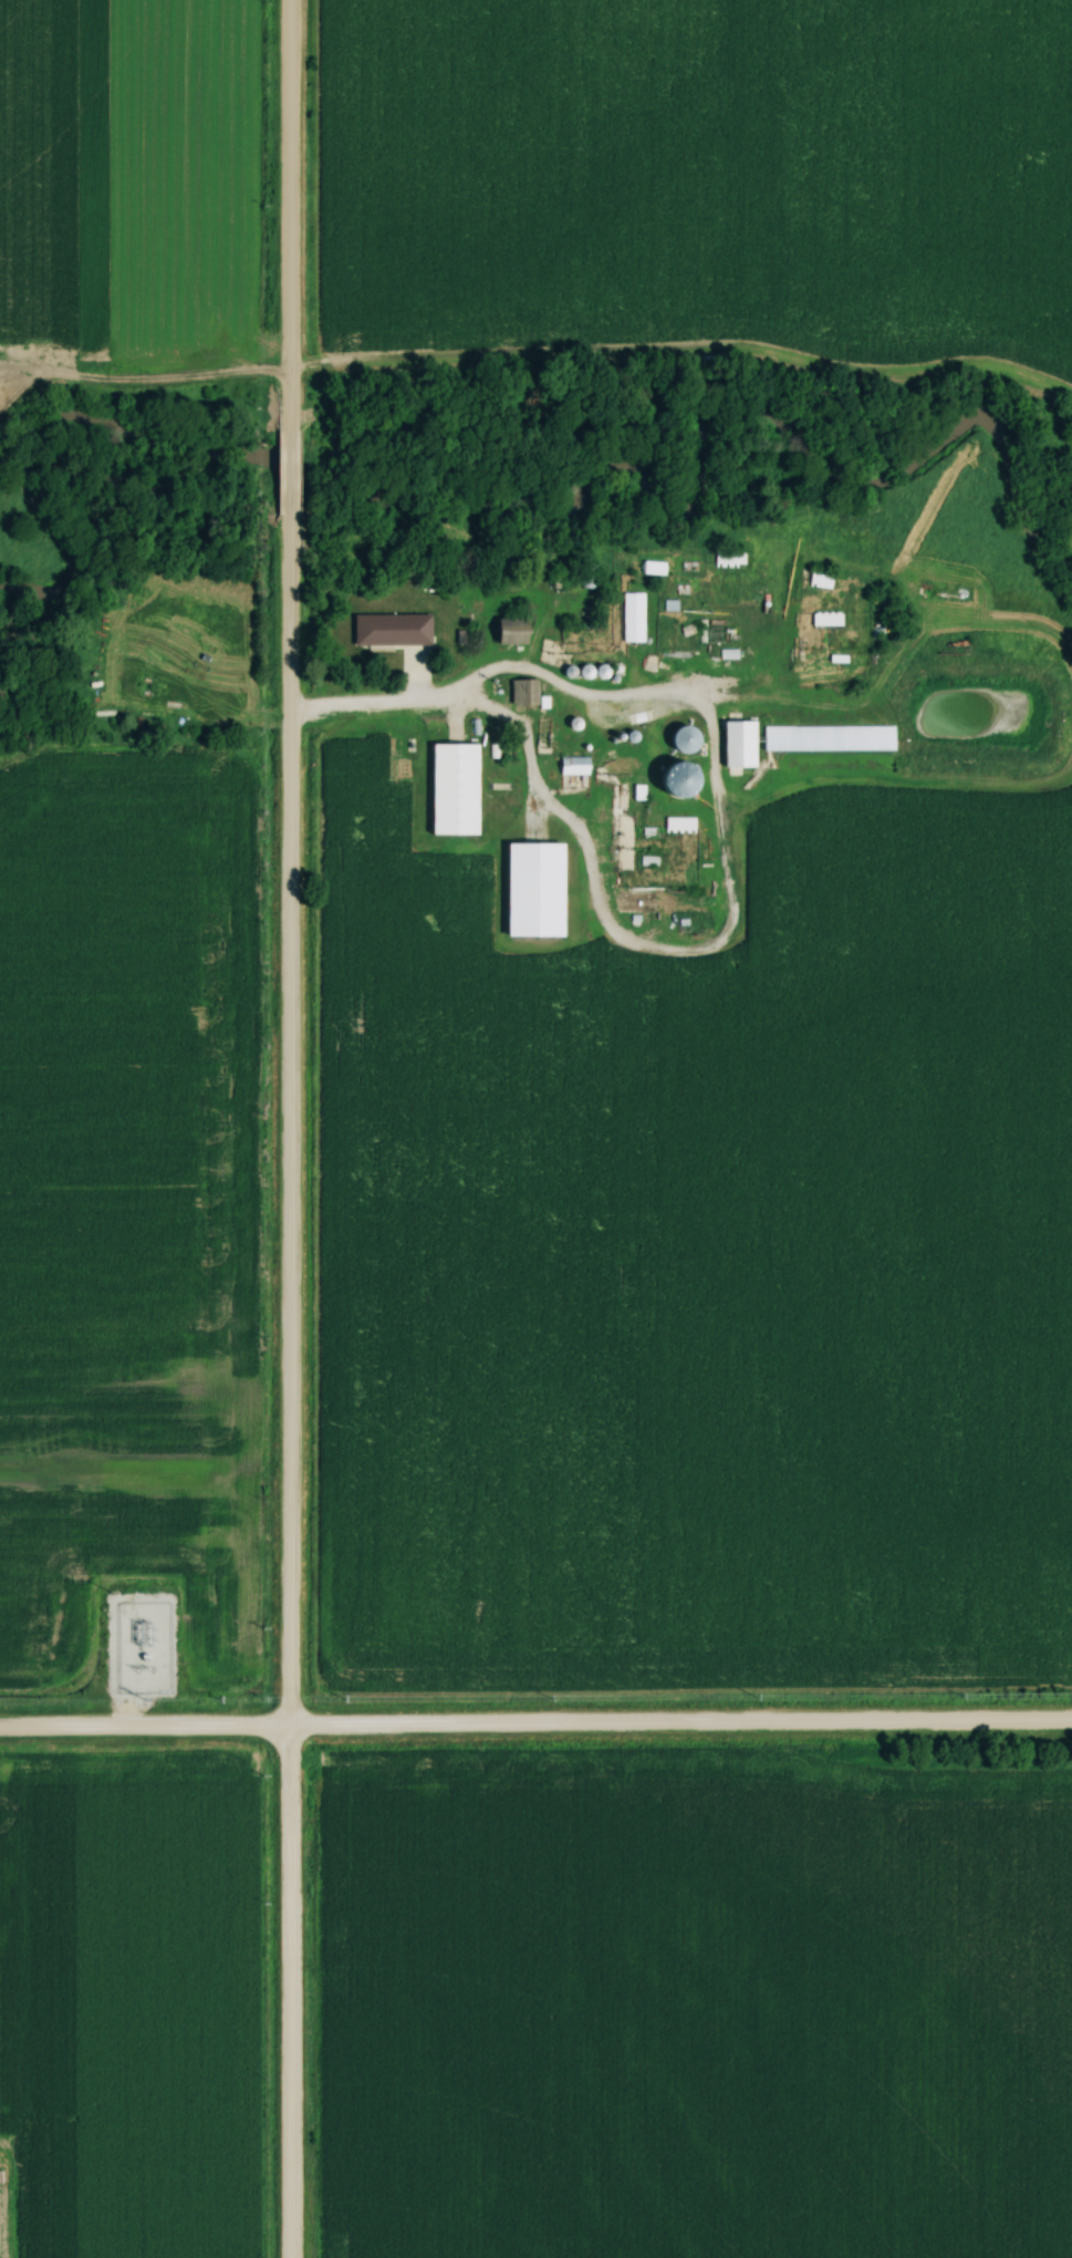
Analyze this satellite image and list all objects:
crop: (39, 167)
road: (287, 216)
road: (140, 377)
road: (288, 470)
building: (728, 557)
building: (652, 568)
building: (587, 576)
building: (820, 579)
building: (632, 617)
building: (825, 618)
building: (392, 628)
building: (511, 630)
building: (523, 691)
building: (829, 736)
building: (684, 737)
building: (739, 740)
building: (573, 765)
building: (678, 777)
building: (455, 787)
building: (679, 822)
building: (634, 900)
road: (288, 1118)
road: (535, 1723)
road: (288, 1991)

